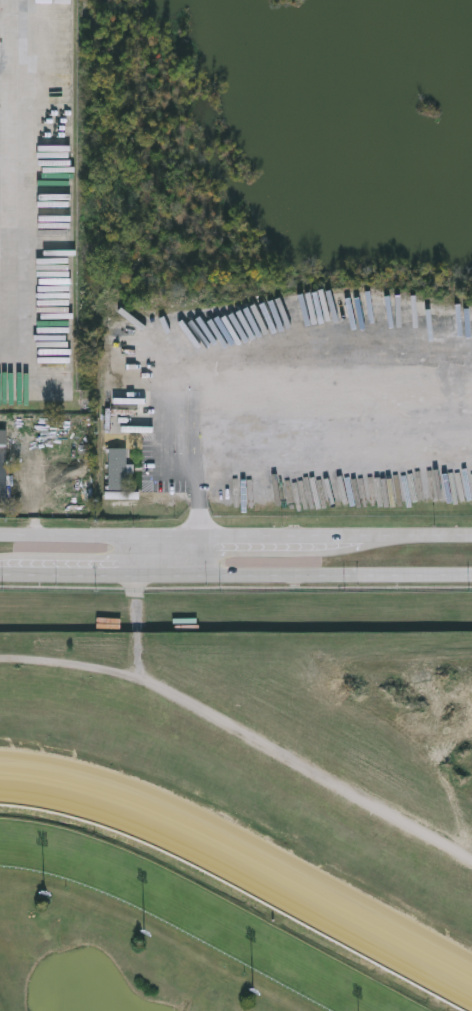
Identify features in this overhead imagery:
road: (20, 180)
road: (9, 360)
road: (236, 406)
building: (2, 462)
road: (235, 535)
road: (235, 577)
building: (245, 625)
road: (230, 724)
track: (187, 910)

